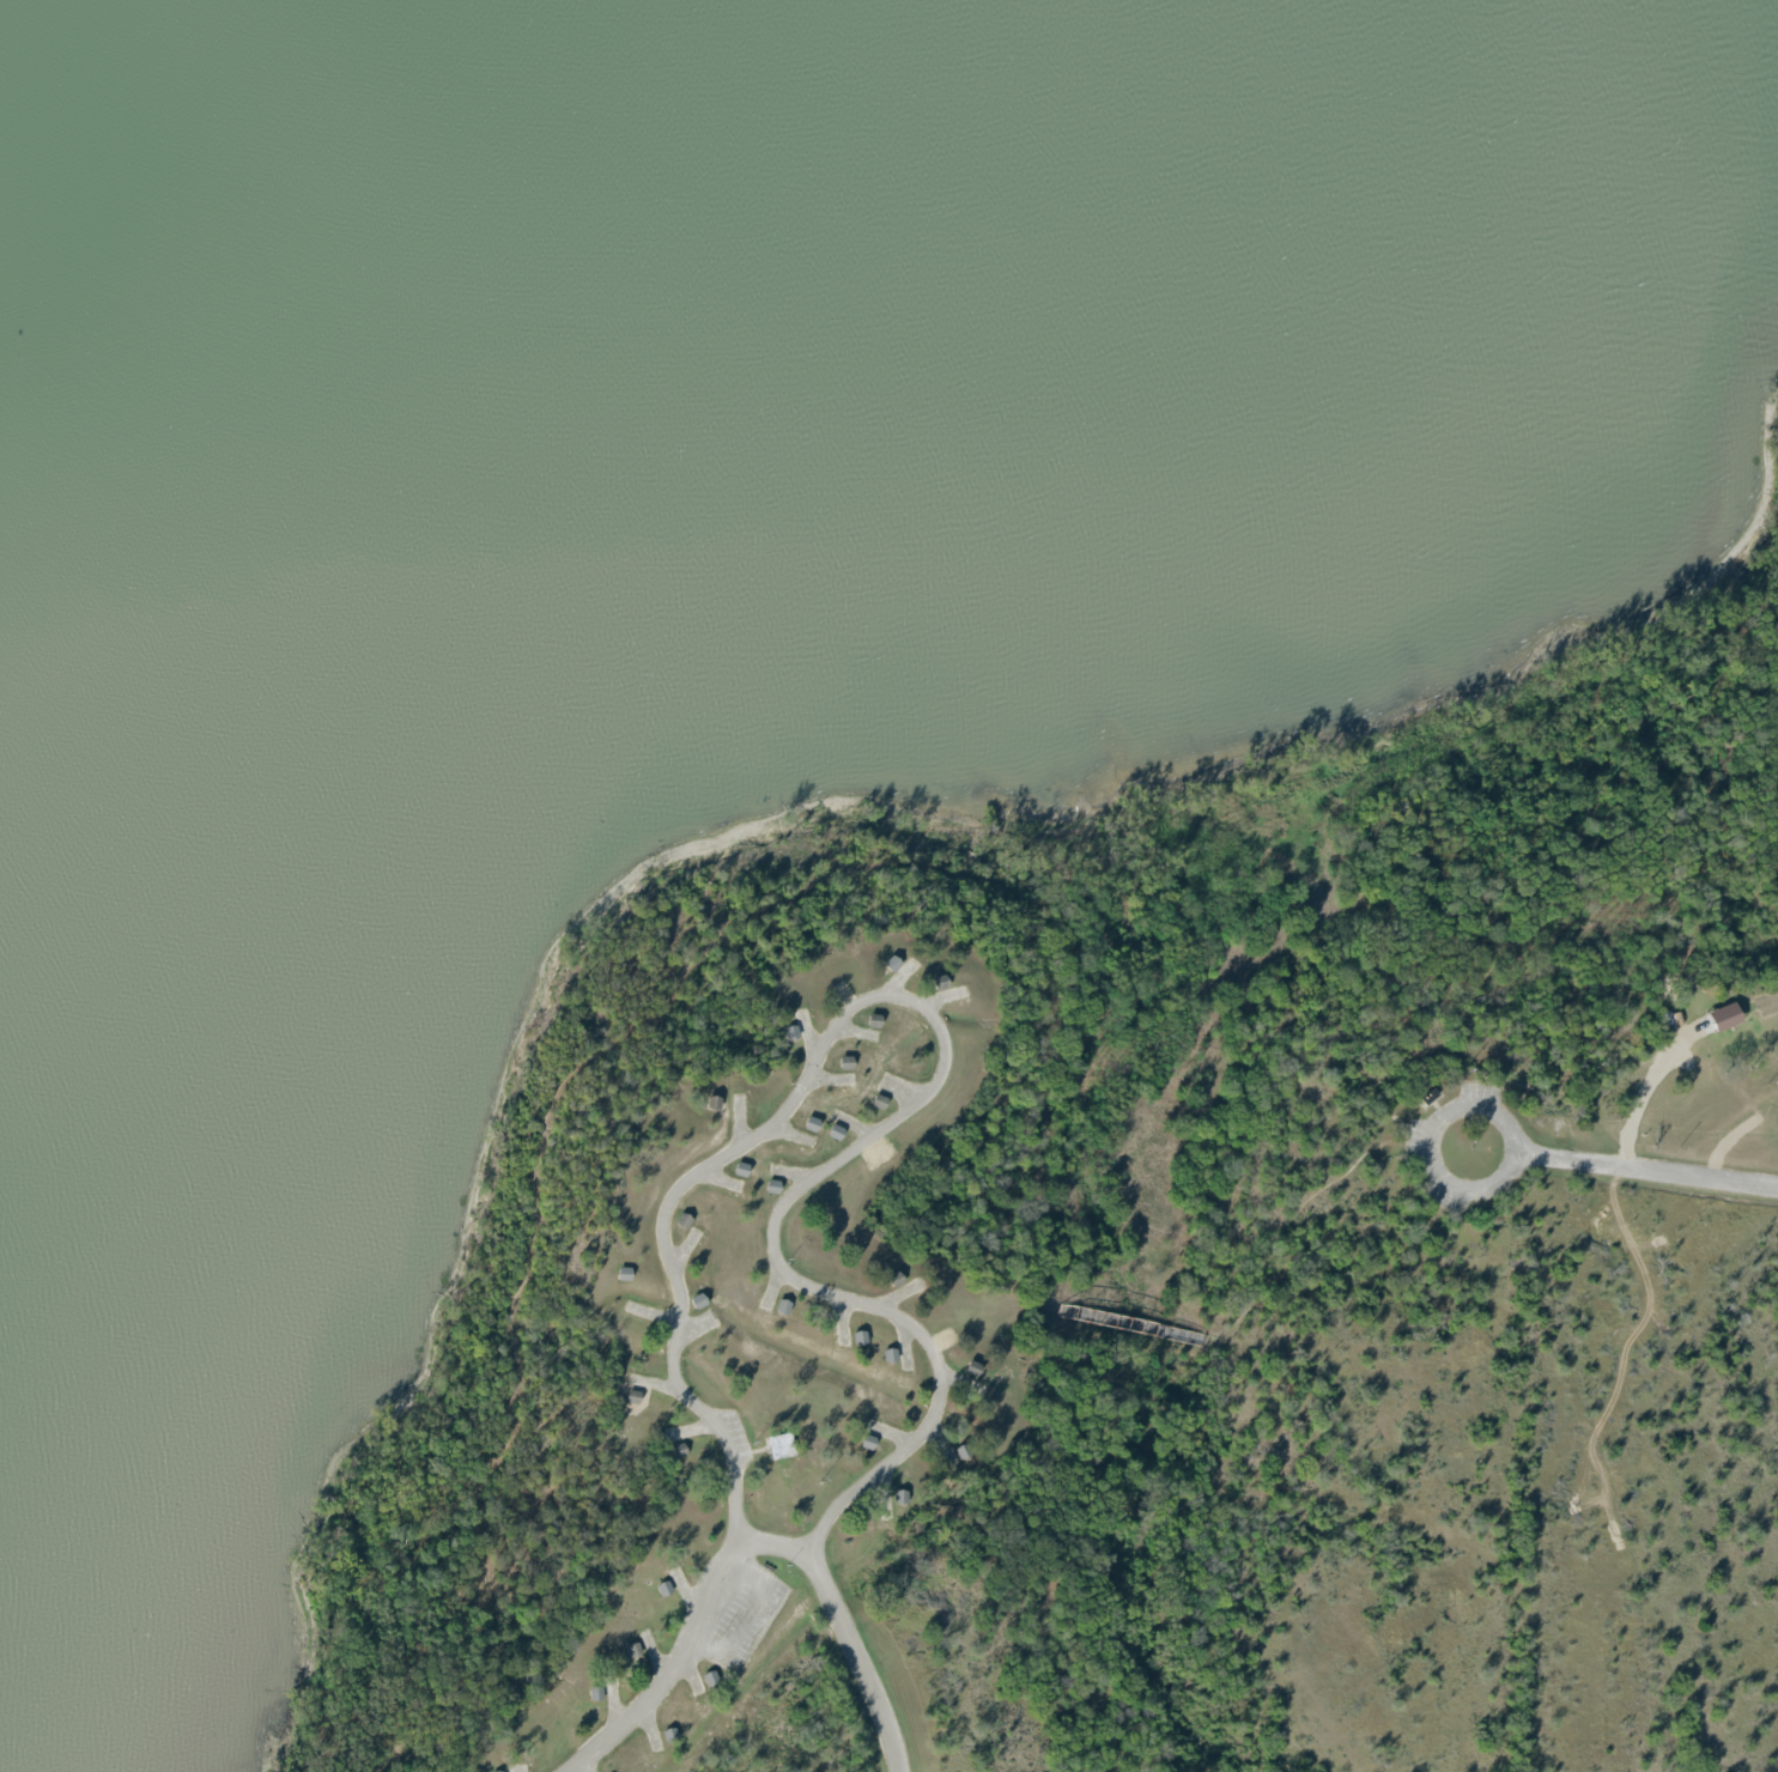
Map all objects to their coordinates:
river: (103, 148)
road: (661, 1012)
road: (916, 1012)
building: (1724, 1015)
building: (811, 1123)
road: (1428, 1142)
building: (741, 1169)
road: (1645, 1173)
park: (1134, 1279)
road: (1061, 1322)
road: (773, 1541)
building: (710, 1679)
road: (376, 1724)

